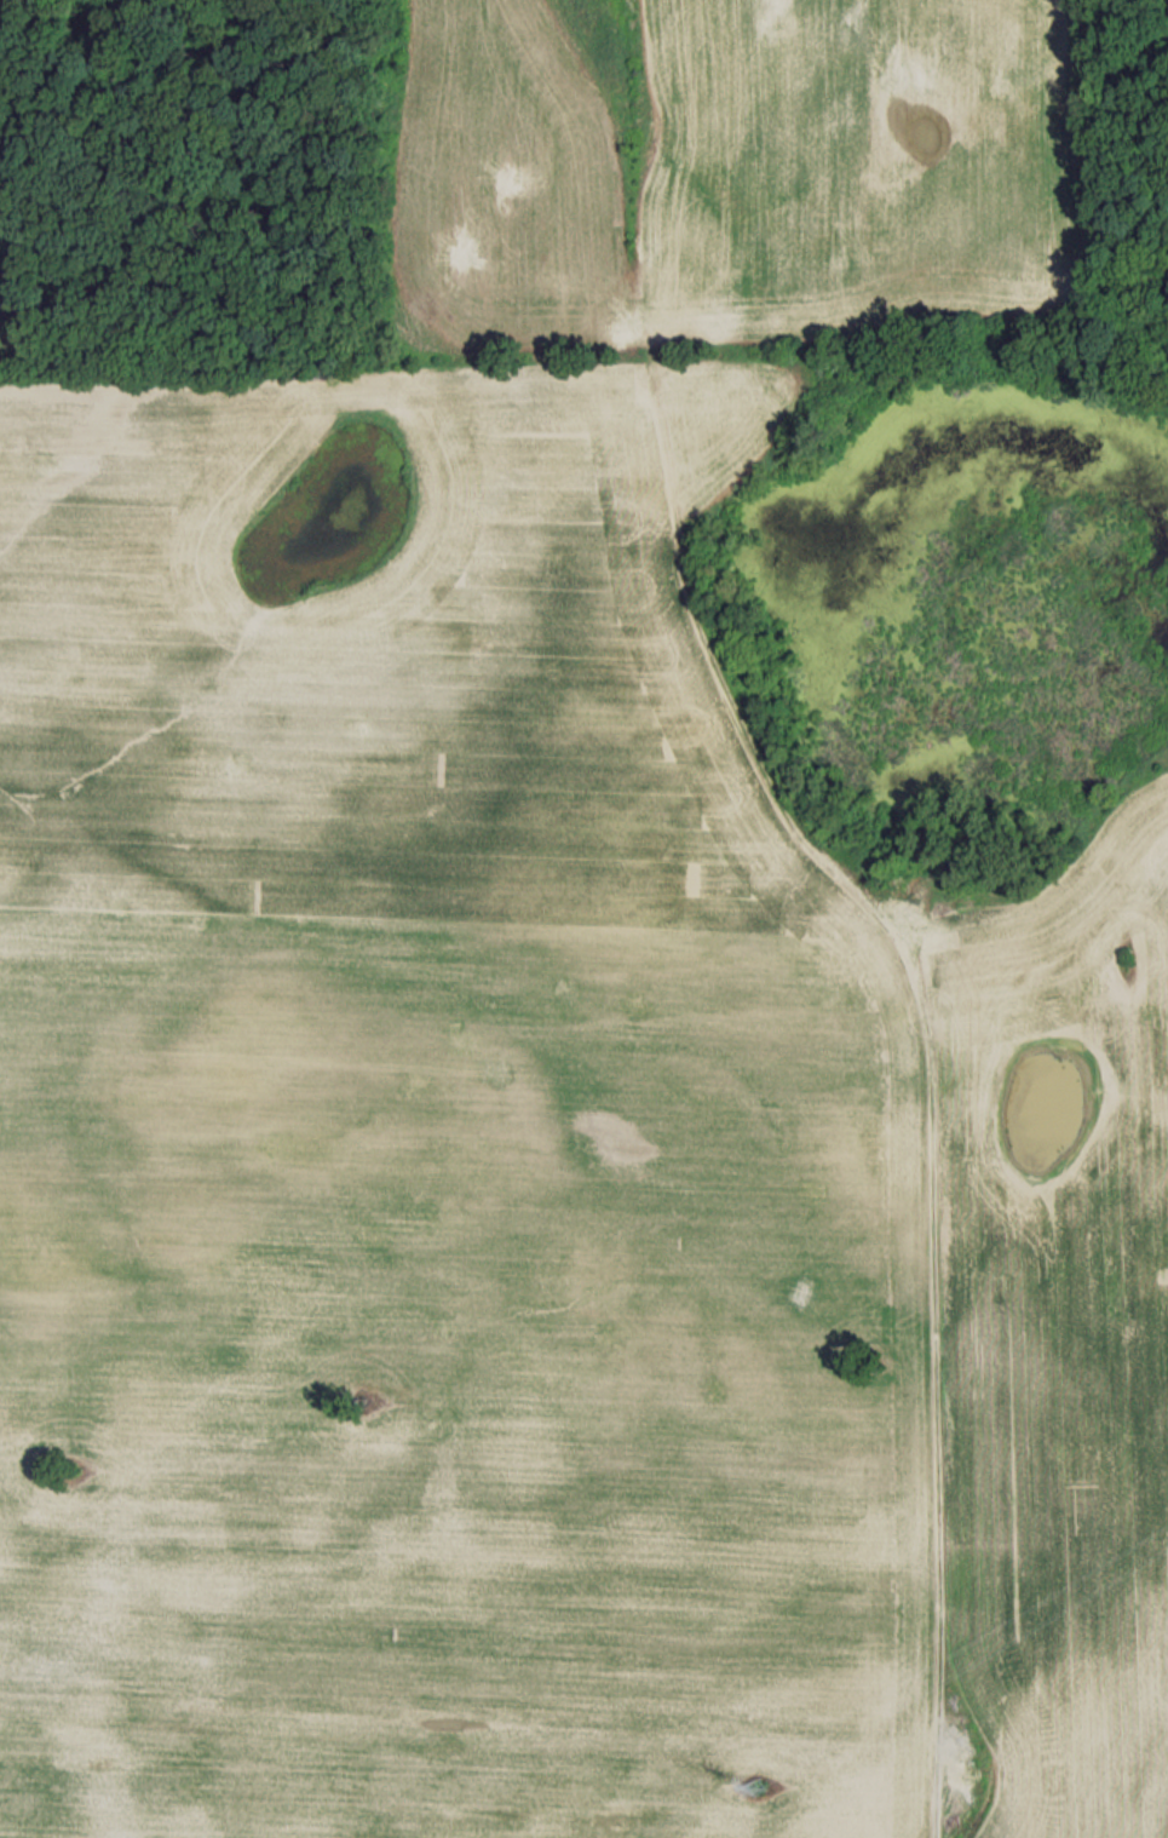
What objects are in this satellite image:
crop: (418, 720)
crop: (1055, 1331)
crop: (464, 1447)
power tower: (756, 1787)

